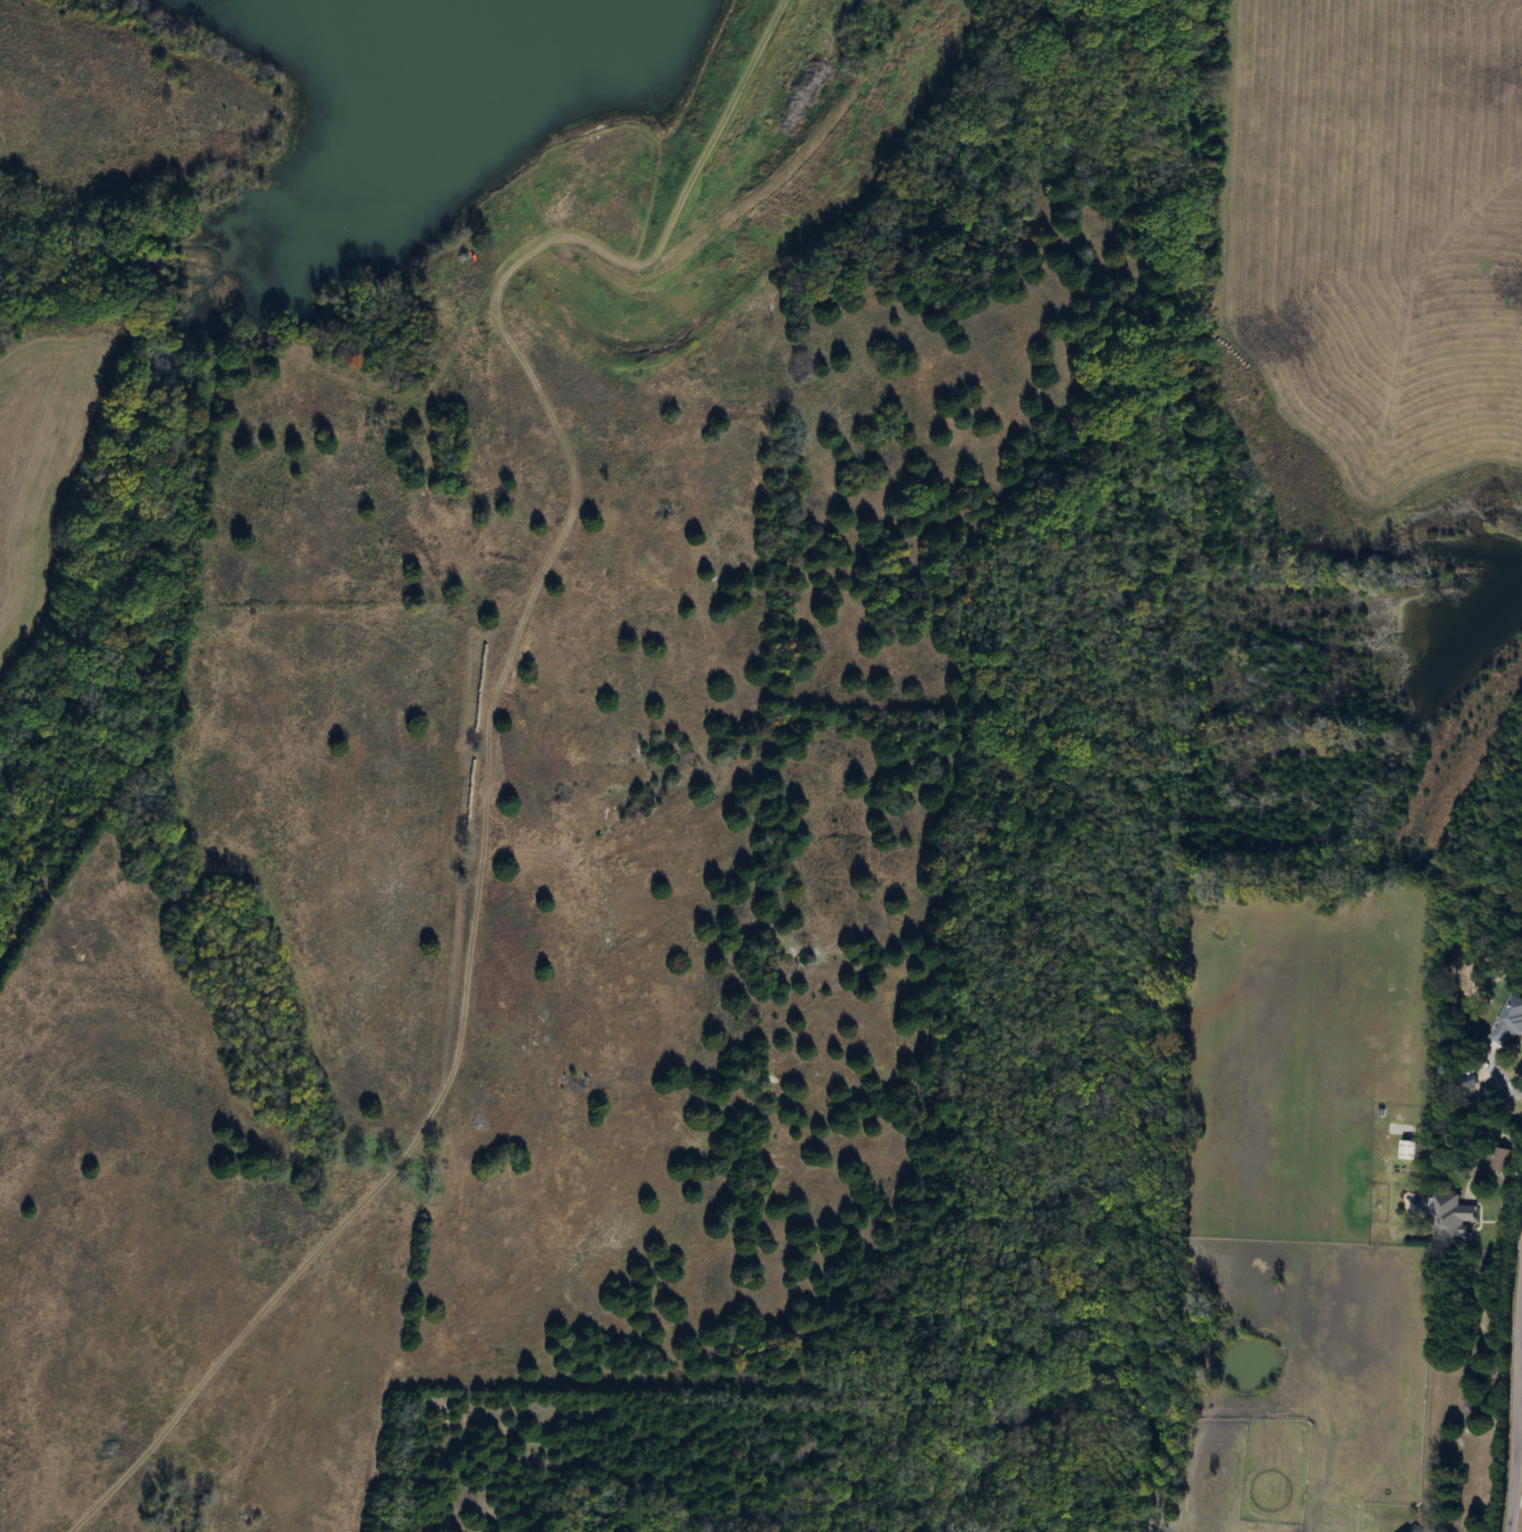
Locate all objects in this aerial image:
building: (1508, 1020)
building: (1408, 1149)
building: (1501, 1159)
building: (1454, 1219)
road: (1515, 1402)

